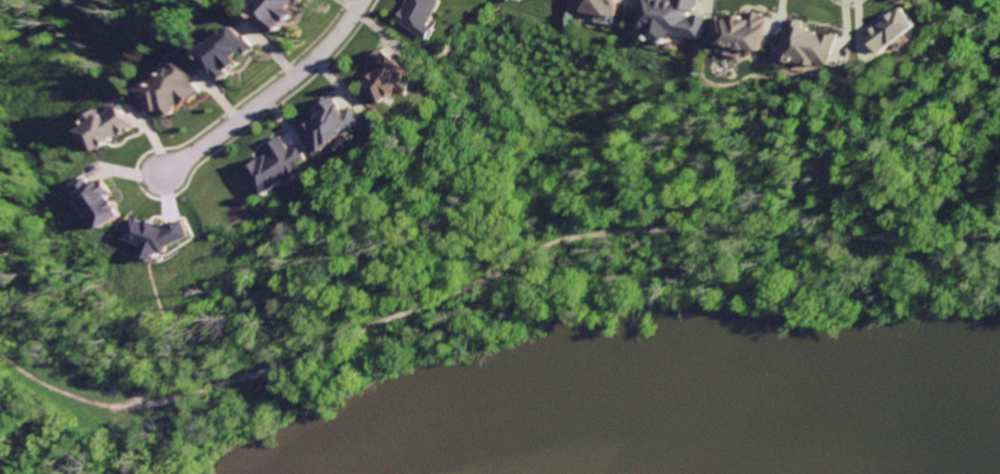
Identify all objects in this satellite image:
building: (614, 3)
building: (277, 11)
building: (415, 15)
building: (681, 18)
building: (745, 28)
building: (897, 29)
building: (813, 43)
building: (223, 52)
building: (388, 73)
building: (168, 88)
road: (261, 94)
building: (327, 122)
building: (106, 126)
building: (274, 165)
building: (96, 200)
building: (149, 235)
road: (486, 277)

